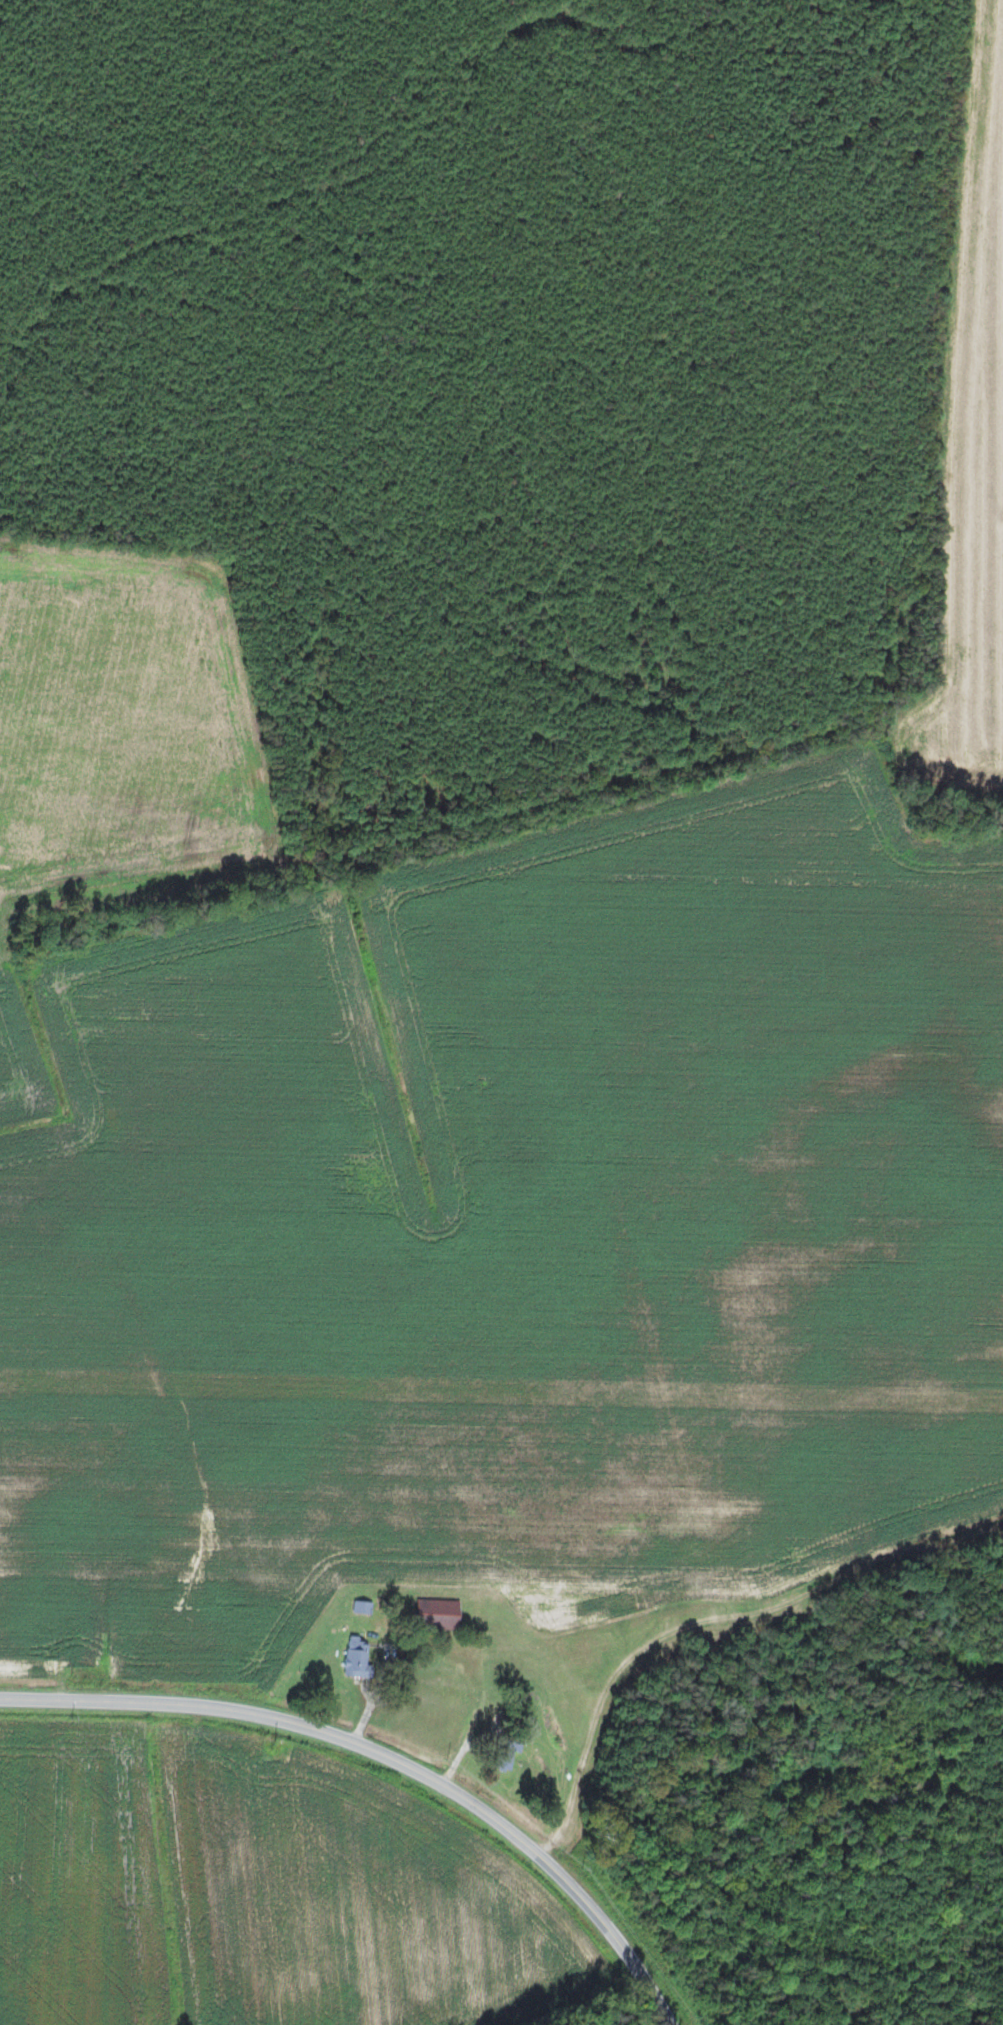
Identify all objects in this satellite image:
building: (433, 1612)
building: (351, 1657)
building: (501, 1753)
road: (388, 1757)

